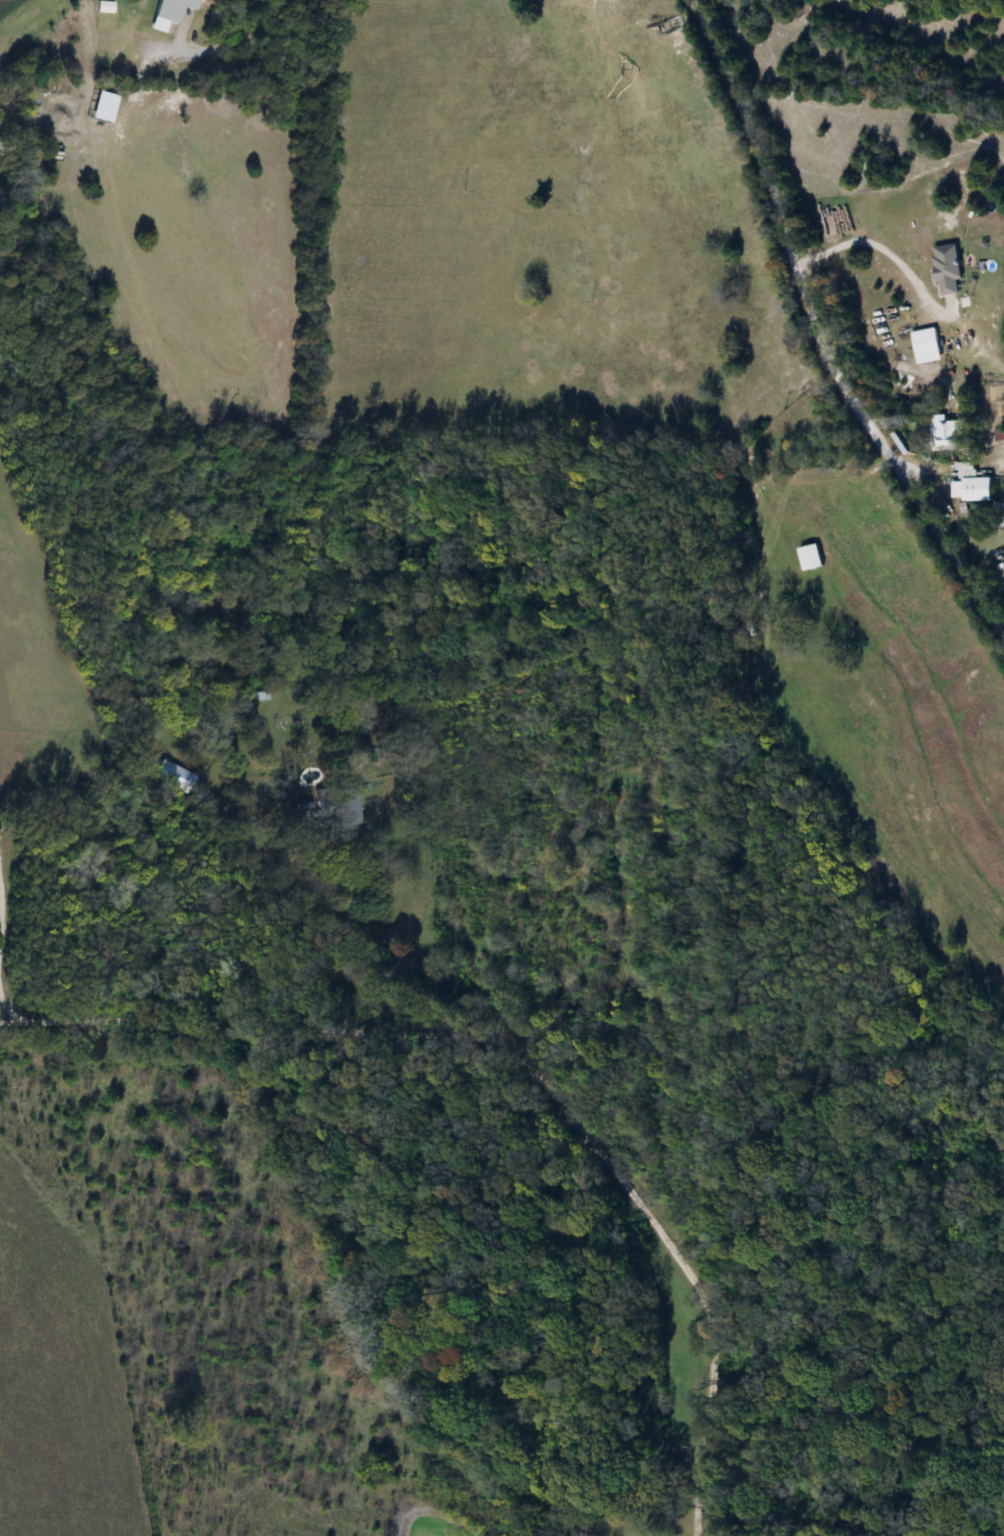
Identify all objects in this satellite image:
road: (266, 10)
building: (169, 13)
road: (213, 50)
road: (880, 249)
road: (817, 333)
building: (942, 433)
building: (971, 485)
building: (806, 557)
building: (347, 804)
road: (335, 956)
road: (0, 1022)
road: (522, 1062)

